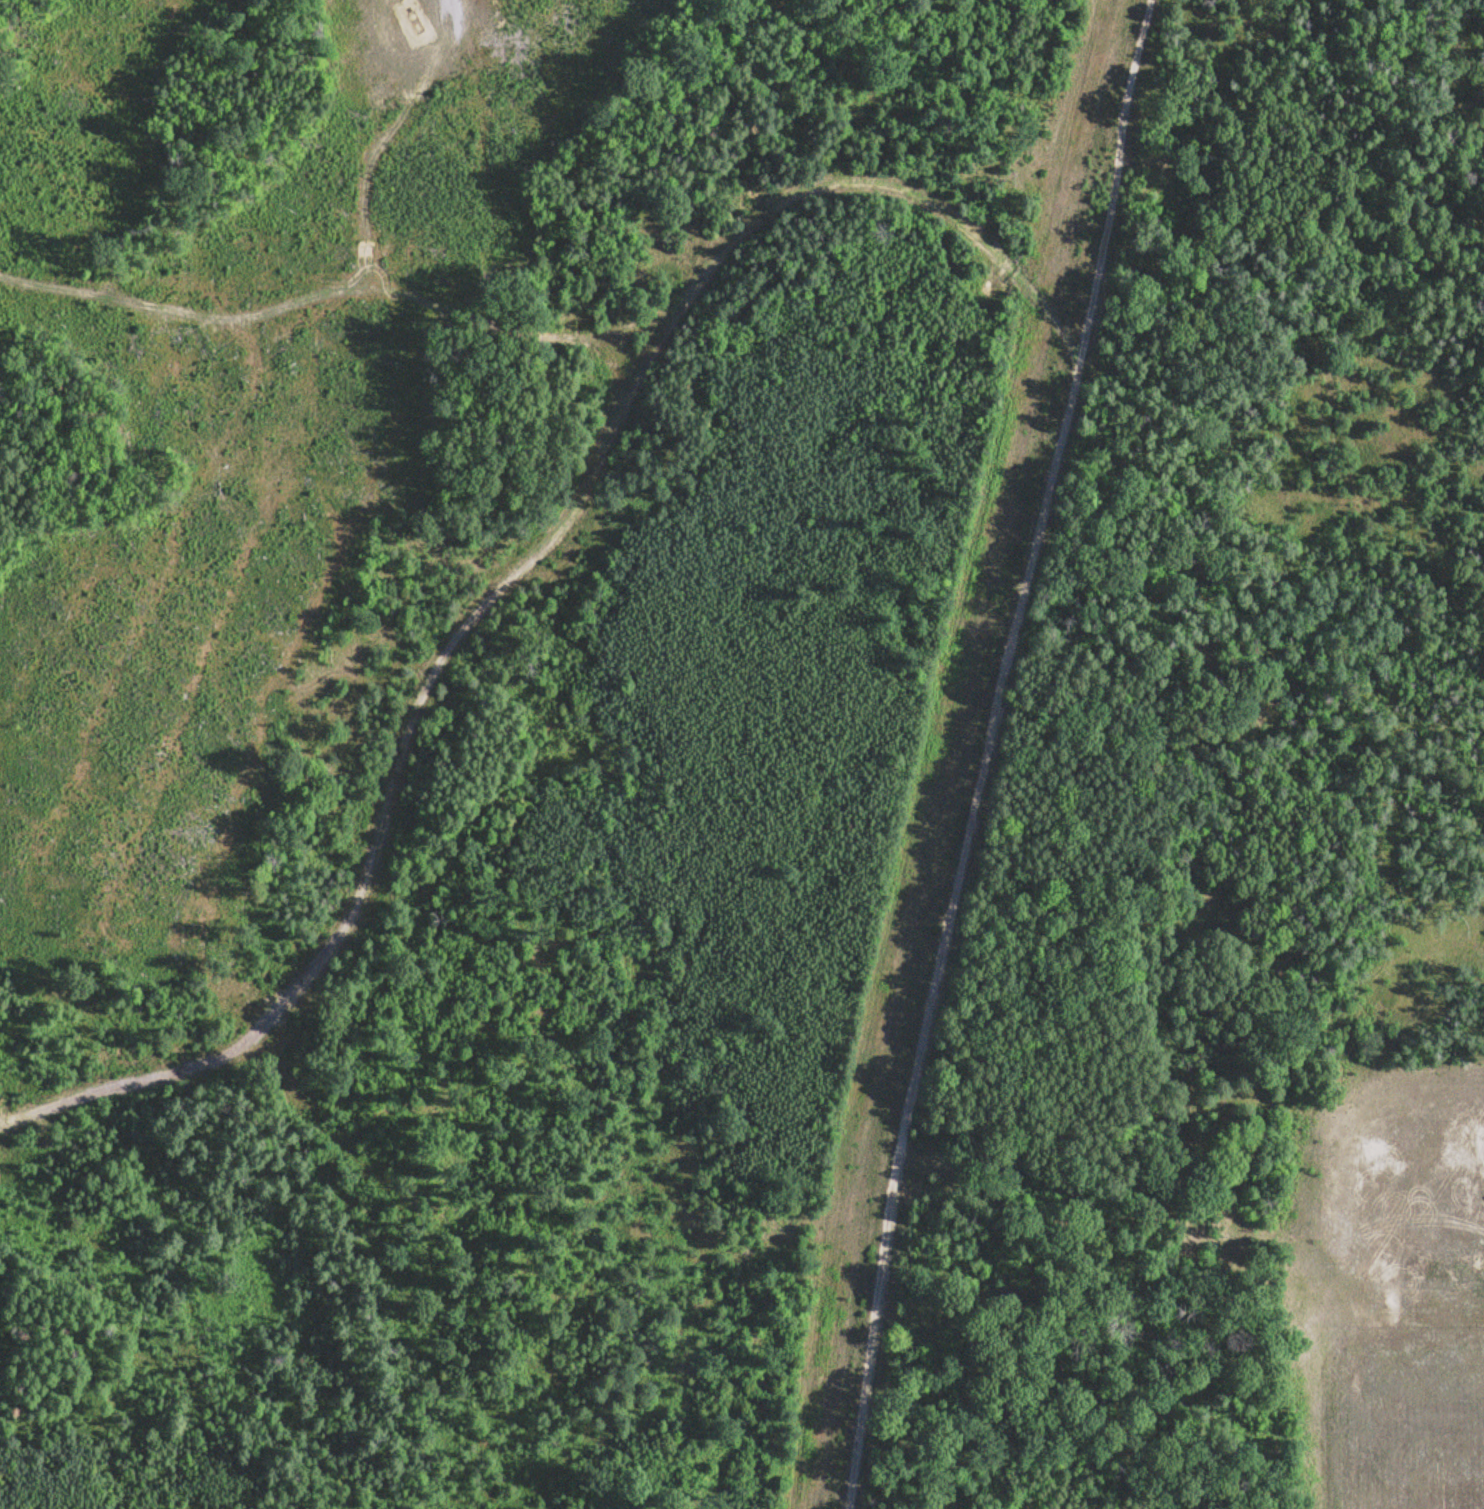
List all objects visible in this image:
petroleum well: (412, 25)
road: (988, 751)

